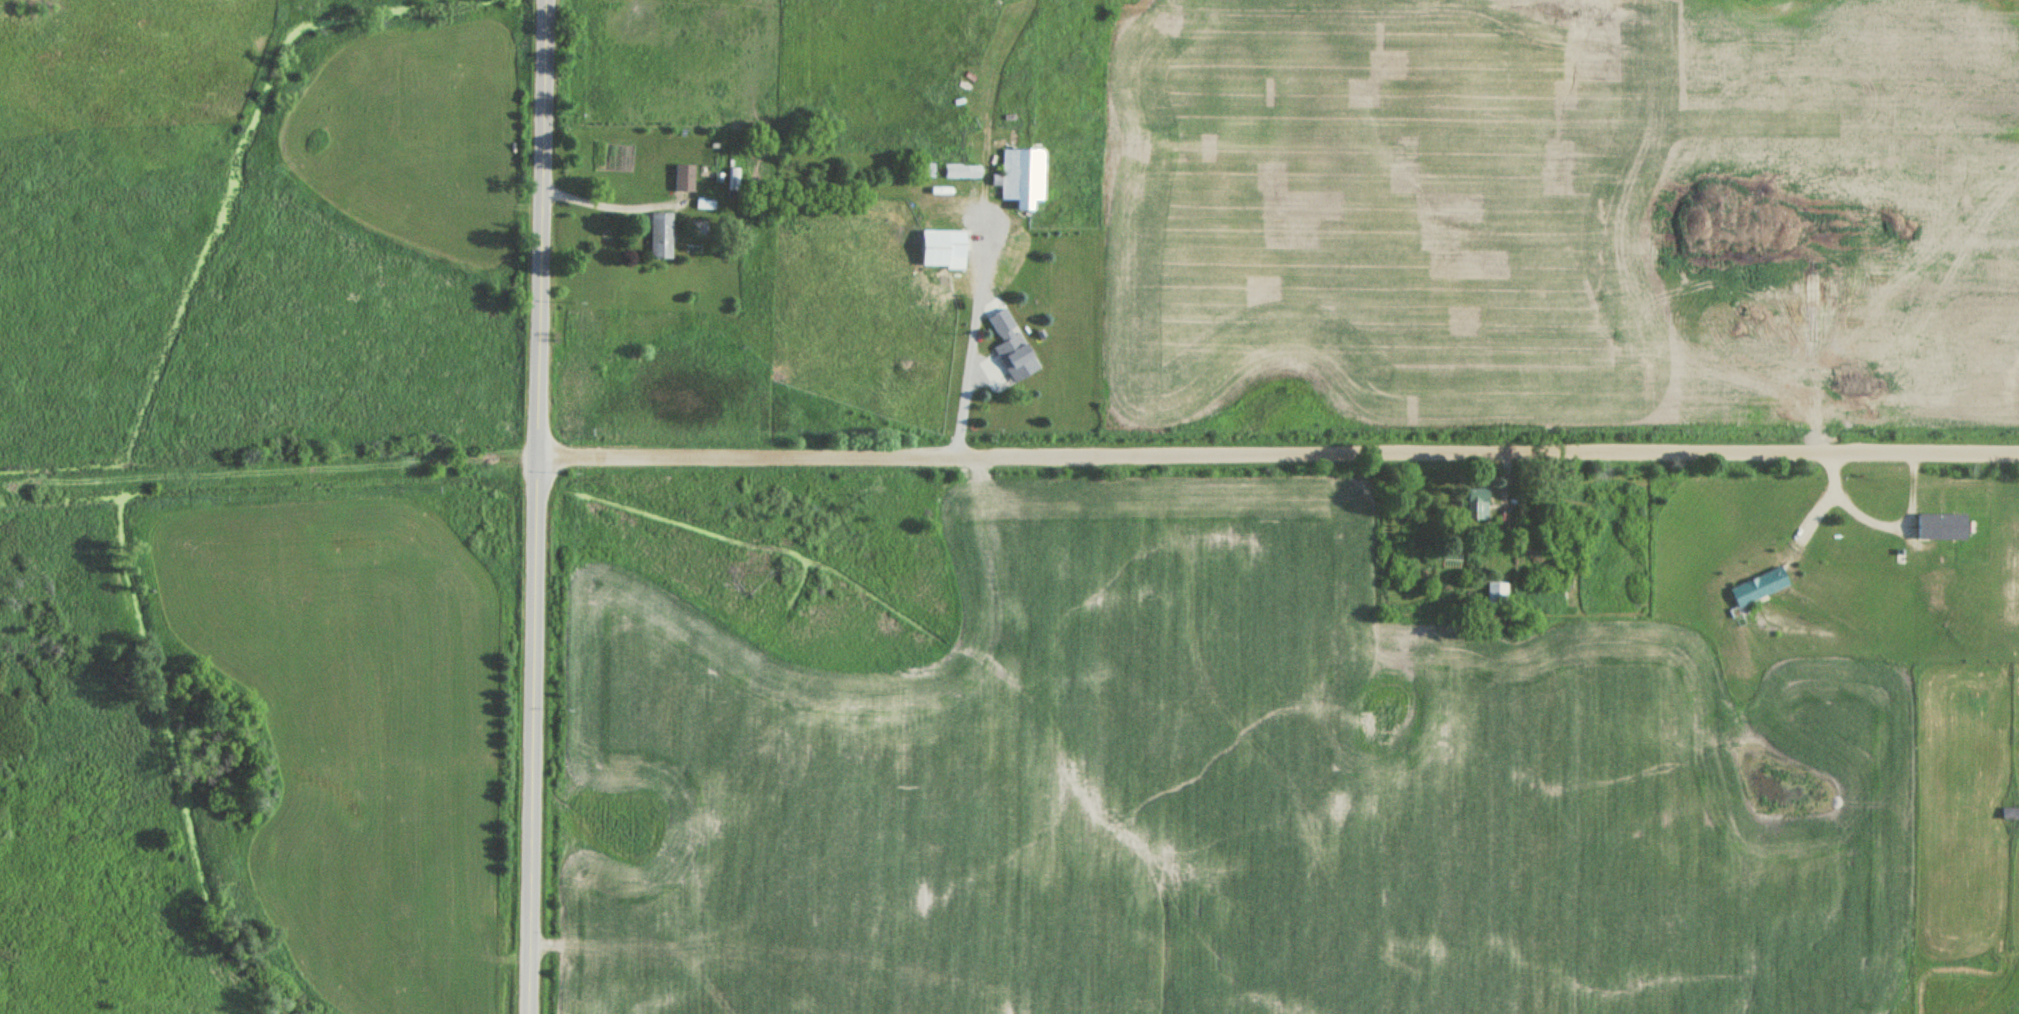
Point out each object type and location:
building: (961, 171)
building: (1022, 177)
building: (684, 178)
building: (734, 179)
road: (616, 207)
building: (660, 236)
building: (941, 249)
building: (1012, 347)
road: (1279, 456)
building: (1476, 505)
road: (538, 507)
building: (1940, 527)
building: (1758, 588)
building: (1496, 594)
building: (2010, 813)

